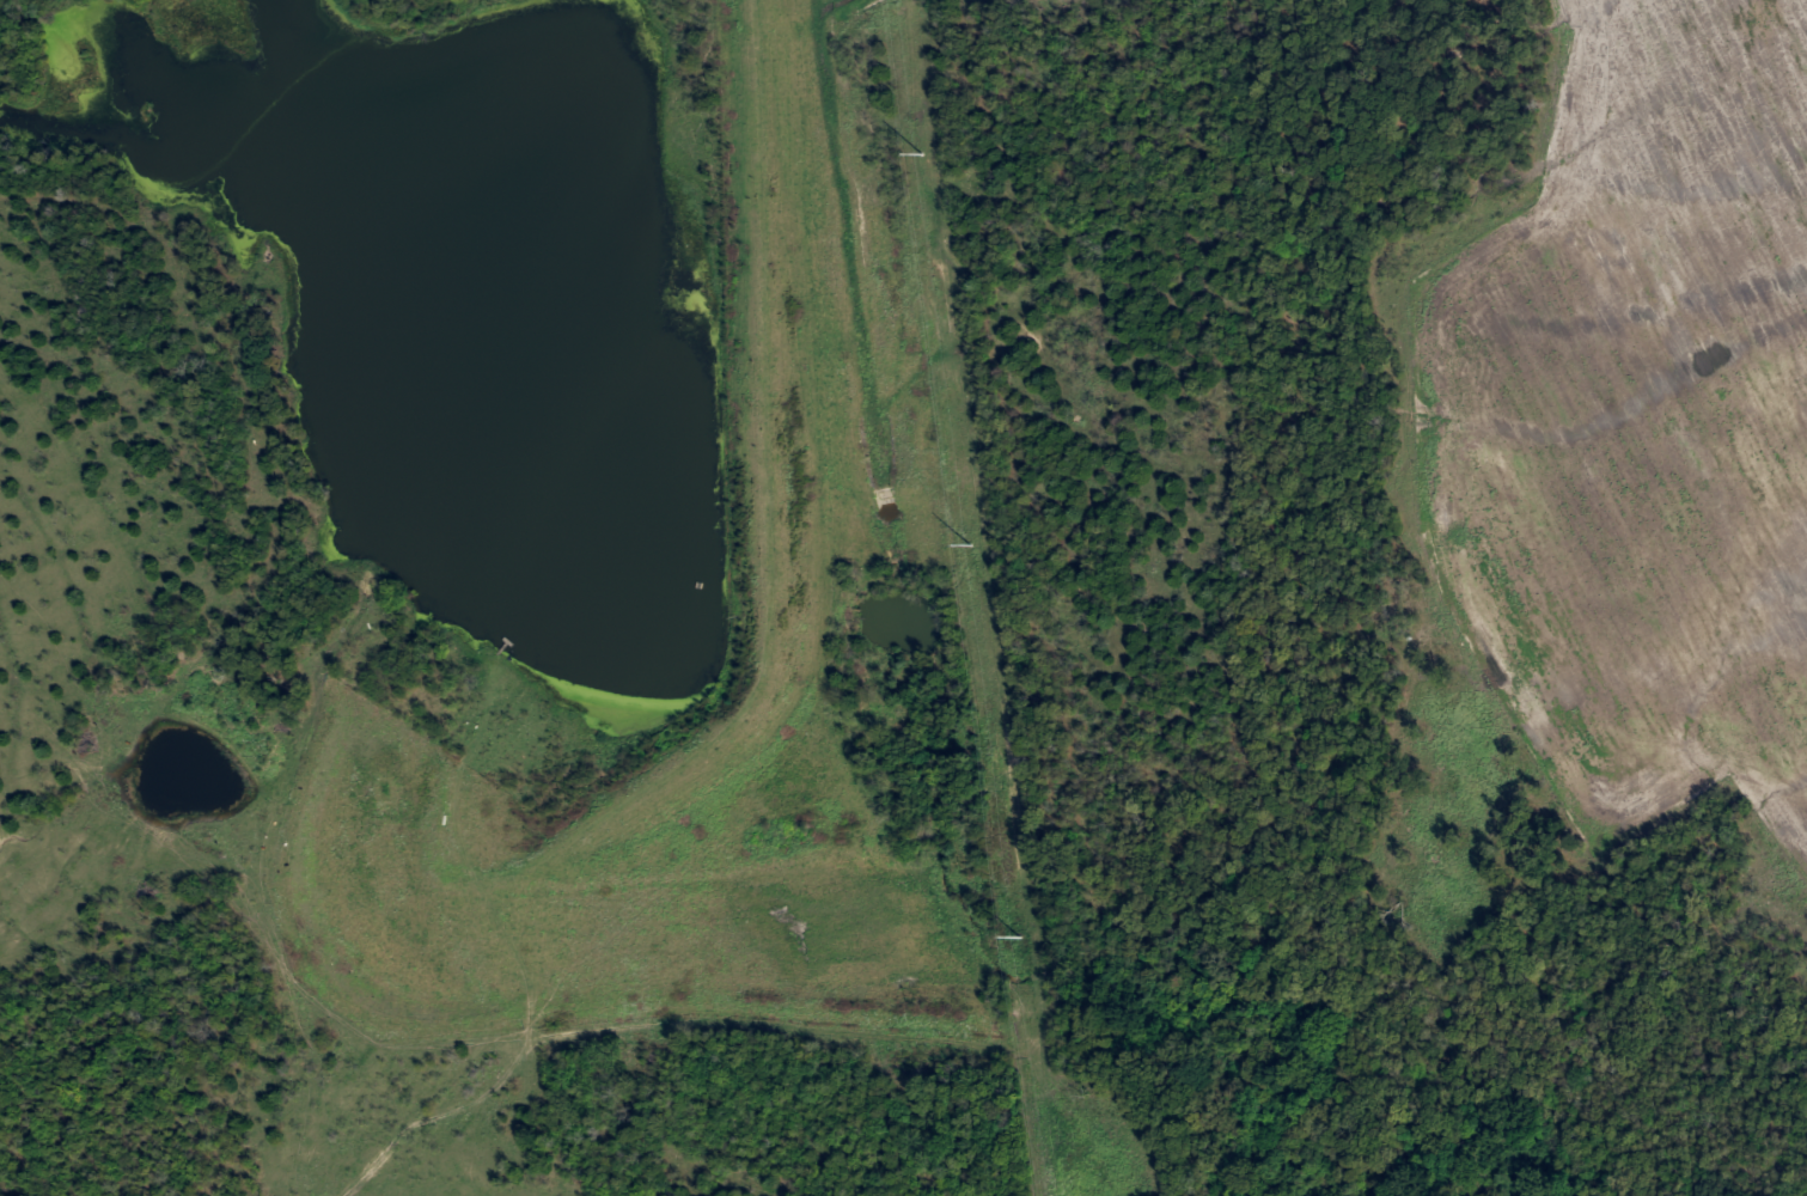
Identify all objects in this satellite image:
power tower: (920, 153)
power tower: (969, 542)
power tower: (1018, 934)

